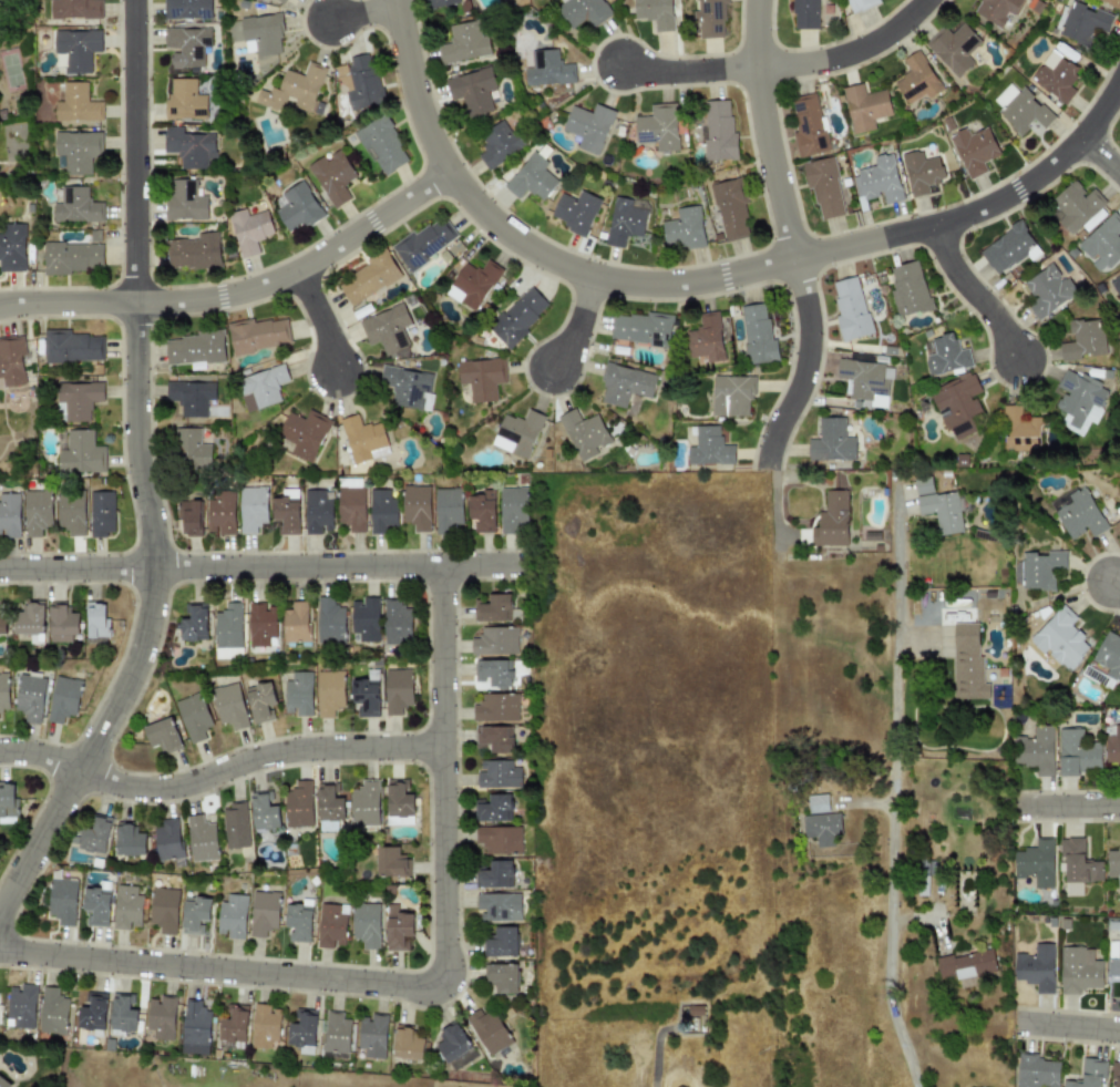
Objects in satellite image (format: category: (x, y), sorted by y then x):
building: (281, 1)
building: (440, 2)
building: (1111, 2)
building: (859, 4)
building: (74, 9)
building: (187, 9)
building: (996, 10)
building: (583, 11)
road: (362, 12)
building: (653, 12)
building: (803, 14)
building: (708, 18)
building: (1082, 23)
building: (261, 34)
building: (463, 42)
building: (186, 45)
building: (953, 48)
building: (76, 49)
road: (847, 52)
building: (546, 68)
road: (688, 71)
building: (1056, 75)
building: (916, 79)
building: (359, 82)
building: (294, 90)
building: (472, 90)
building: (184, 100)
building: (76, 103)
building: (864, 107)
building: (1019, 109)
building: (588, 126)
building: (658, 126)
building: (808, 126)
building: (718, 130)
road: (763, 130)
building: (497, 144)
building: (381, 145)
building: (188, 146)
building: (974, 150)
building: (78, 151)
road: (1099, 155)
building: (921, 172)
building: (332, 177)
building: (531, 178)
building: (877, 180)
building: (824, 188)
building: (185, 201)
building: (76, 206)
building: (1072, 206)
building: (297, 207)
road: (982, 208)
building: (730, 209)
building: (575, 211)
building: (625, 221)
building: (684, 228)
building: (249, 230)
building: (424, 242)
road: (521, 243)
building: (1102, 244)
building: (12, 247)
building: (1009, 248)
building: (193, 252)
building: (71, 257)
building: (368, 278)
building: (472, 284)
building: (1116, 284)
building: (907, 288)
building: (1047, 290)
road: (239, 291)
road: (972, 293)
building: (850, 309)
building: (517, 317)
road: (319, 318)
road: (576, 324)
building: (641, 328)
building: (386, 329)
building: (258, 334)
building: (757, 334)
building: (706, 338)
building: (1083, 339)
building: (72, 346)
building: (194, 348)
building: (946, 355)
building: (11, 360)
road: (805, 361)
building: (481, 378)
building: (864, 381)
building: (625, 384)
building: (261, 387)
building: (408, 387)
building: (731, 394)
building: (191, 397)
building: (76, 399)
building: (1078, 400)
building: (958, 406)
building: (1019, 430)
building: (304, 433)
building: (517, 433)
building: (584, 433)
building: (362, 438)
building: (830, 441)
building: (708, 447)
building: (191, 449)
building: (80, 453)
road: (140, 472)
building: (922, 485)
building: (415, 506)
road: (774, 506)
building: (251, 507)
building: (351, 509)
building: (448, 510)
building: (513, 510)
building: (70, 511)
building: (318, 511)
building: (382, 511)
building: (482, 511)
building: (941, 511)
building: (37, 512)
building: (286, 512)
building: (100, 513)
building: (220, 513)
building: (9, 514)
building: (1078, 514)
building: (191, 517)
building: (831, 520)
road: (330, 565)
road: (75, 568)
building: (1040, 570)
road: (1114, 585)
building: (494, 608)
building: (364, 619)
building: (96, 621)
building: (397, 621)
building: (30, 622)
building: (329, 622)
building: (62, 623)
building: (296, 623)
building: (194, 624)
building: (260, 624)
building: (2, 625)
building: (228, 629)
building: (1061, 639)
building: (495, 640)
building: (1106, 662)
building: (966, 663)
building: (494, 671)
road: (895, 677)
building: (3, 690)
building: (397, 690)
building: (329, 693)
building: (298, 694)
building: (30, 697)
building: (366, 697)
building: (62, 699)
building: (259, 701)
building: (228, 706)
building: (496, 707)
building: (193, 716)
building: (162, 735)
building: (493, 738)
building: (1112, 745)
building: (1035, 750)
building: (1077, 752)
road: (39, 756)
road: (256, 757)
building: (497, 773)
building: (7, 799)
building: (329, 802)
building: (364, 802)
building: (398, 802)
building: (816, 803)
building: (298, 804)
road: (1076, 806)
building: (494, 808)
building: (264, 811)
building: (235, 825)
building: (821, 828)
building: (94, 834)
building: (202, 839)
building: (500, 839)
building: (167, 840)
building: (129, 841)
building: (391, 862)
building: (1078, 862)
building: (1035, 863)
building: (1113, 863)
building: (495, 874)
building: (62, 901)
building: (96, 905)
building: (499, 906)
building: (126, 907)
building: (164, 910)
building: (263, 912)
building: (195, 915)
building: (232, 916)
building: (299, 920)
building: (331, 924)
building: (366, 924)
building: (397, 929)
building: (502, 942)
building: (967, 964)
building: (1113, 964)
building: (1036, 967)
building: (1079, 968)
road: (894, 975)
building: (501, 977)
road: (433, 991)
building: (21, 1005)
building: (52, 1011)
building: (93, 1013)
building: (122, 1013)
building: (161, 1017)
building: (233, 1024)
building: (264, 1026)
road: (1072, 1026)
building: (195, 1028)
building: (487, 1030)
building: (302, 1032)
building: (336, 1033)
building: (371, 1035)
building: (405, 1043)
building: (451, 1044)
building: (1036, 1071)
building: (1116, 1071)
building: (1089, 1074)
building: (3, 1083)

